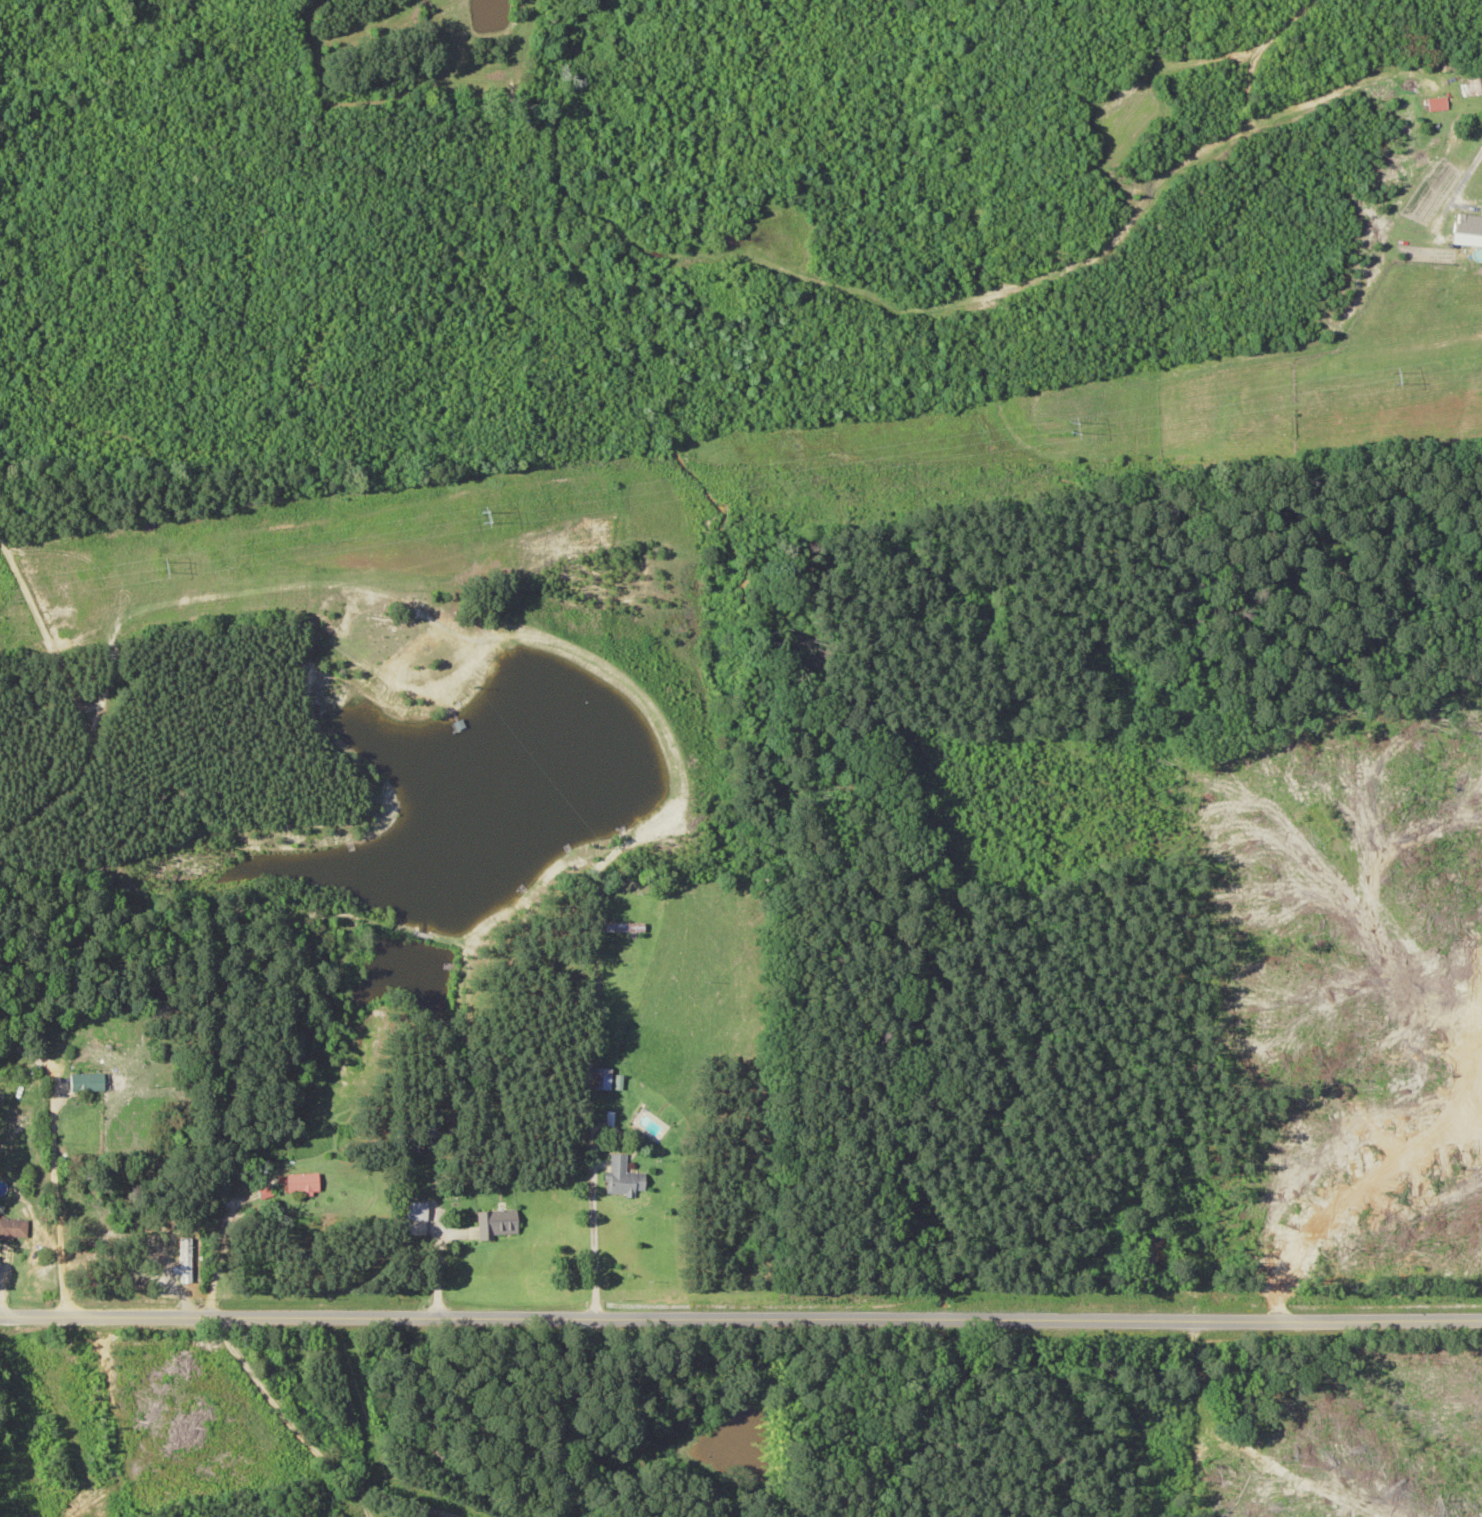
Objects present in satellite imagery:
building: (1475, 84)
building: (623, 926)
building: (602, 1077)
building: (86, 1081)
building: (415, 1144)
building: (622, 1176)
building: (296, 1181)
building: (414, 1209)
building: (496, 1222)
building: (13, 1227)
road: (740, 1320)
road: (284, 1419)
road: (397, 1500)

